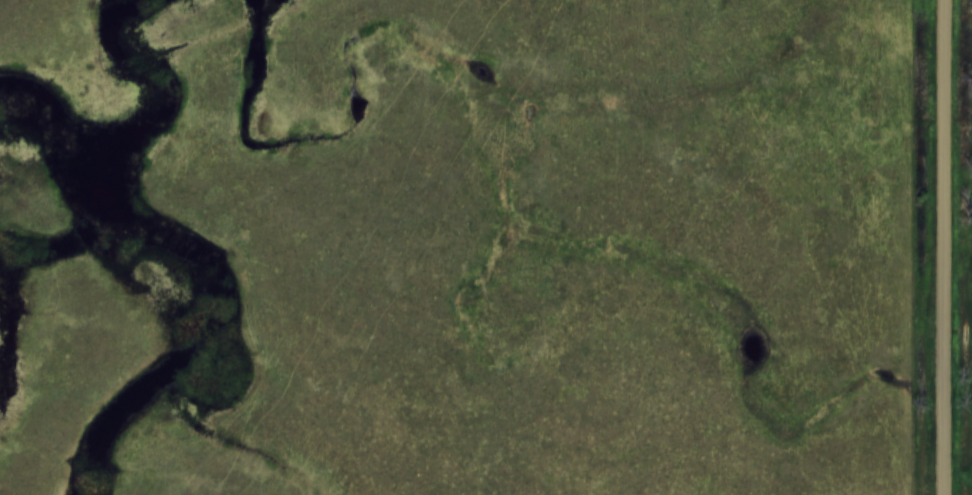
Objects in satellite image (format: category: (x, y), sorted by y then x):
road: (946, 247)

